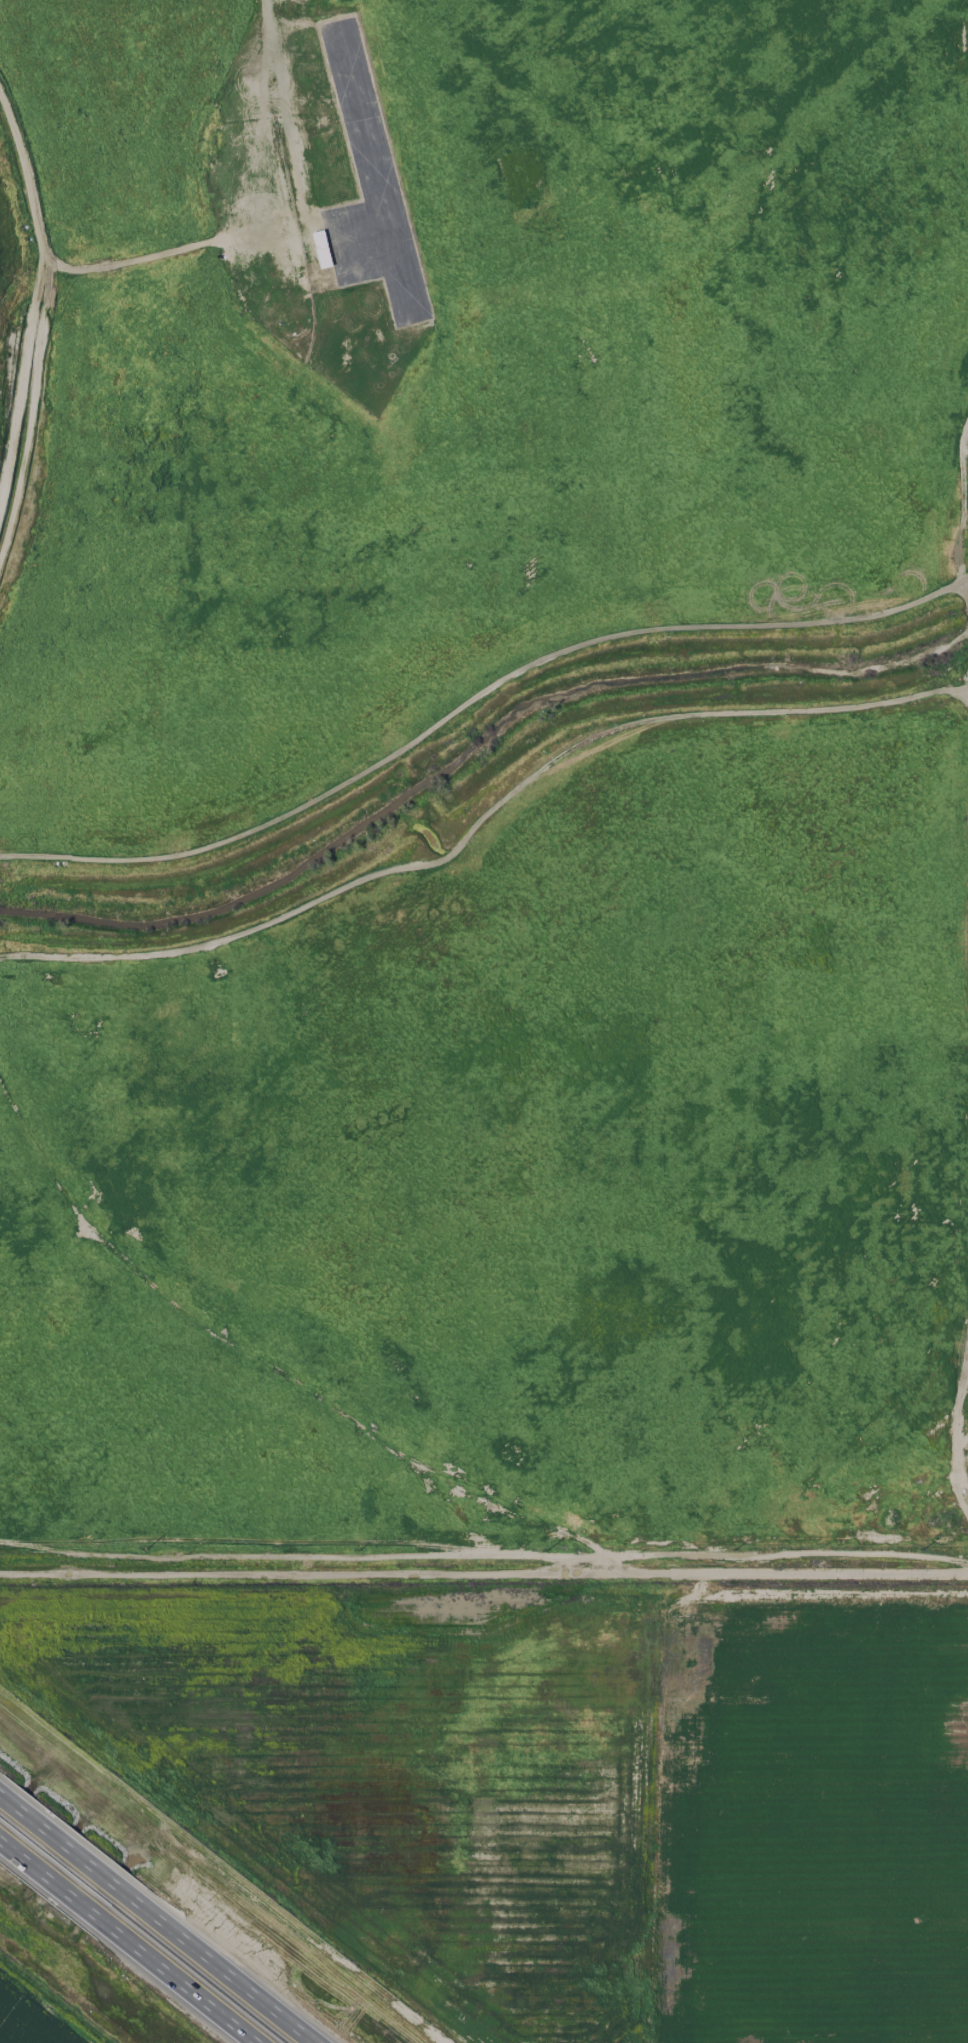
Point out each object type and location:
road: (286, 108)
road: (237, 116)
building: (322, 248)
road: (81, 269)
road: (24, 381)
road: (962, 529)
river: (477, 767)
road: (484, 1560)
road: (1, 1800)
road: (14, 1810)
road: (39, 1830)
road: (5, 1840)
road: (64, 1849)
road: (24, 1855)
road: (88, 1868)
road: (51, 1876)
road: (112, 1888)
road: (74, 1894)
road: (96, 1911)
road: (215, 1970)
road: (184, 1981)

